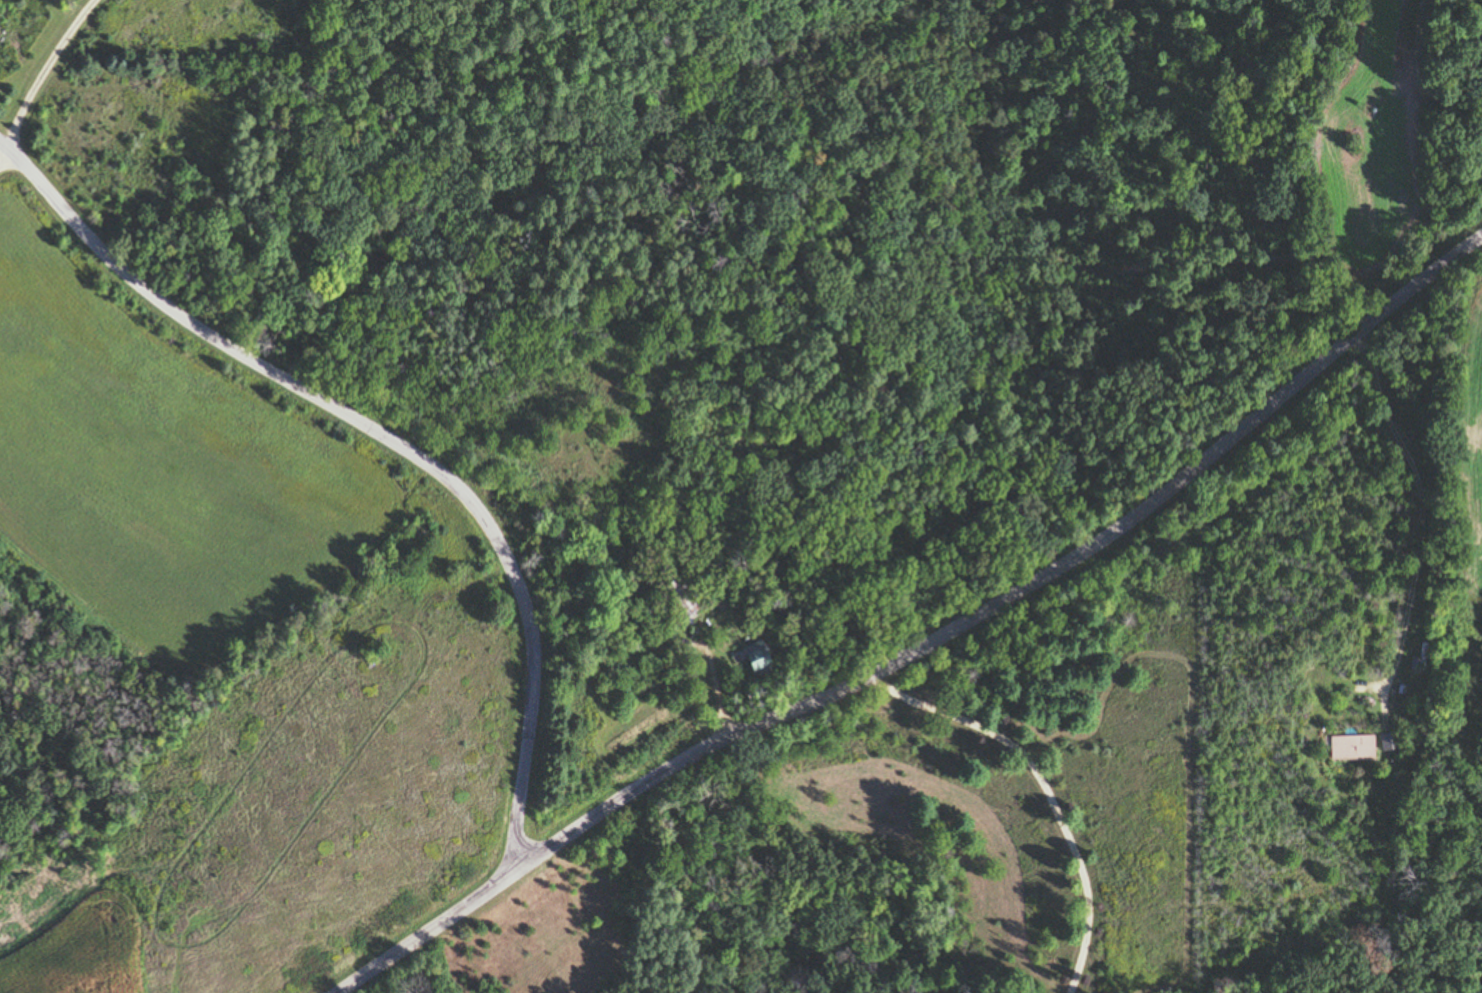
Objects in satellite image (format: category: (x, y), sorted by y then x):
road: (42, 69)
road: (381, 433)
road: (1418, 518)
road: (923, 645)
building: (750, 661)
building: (1350, 749)

